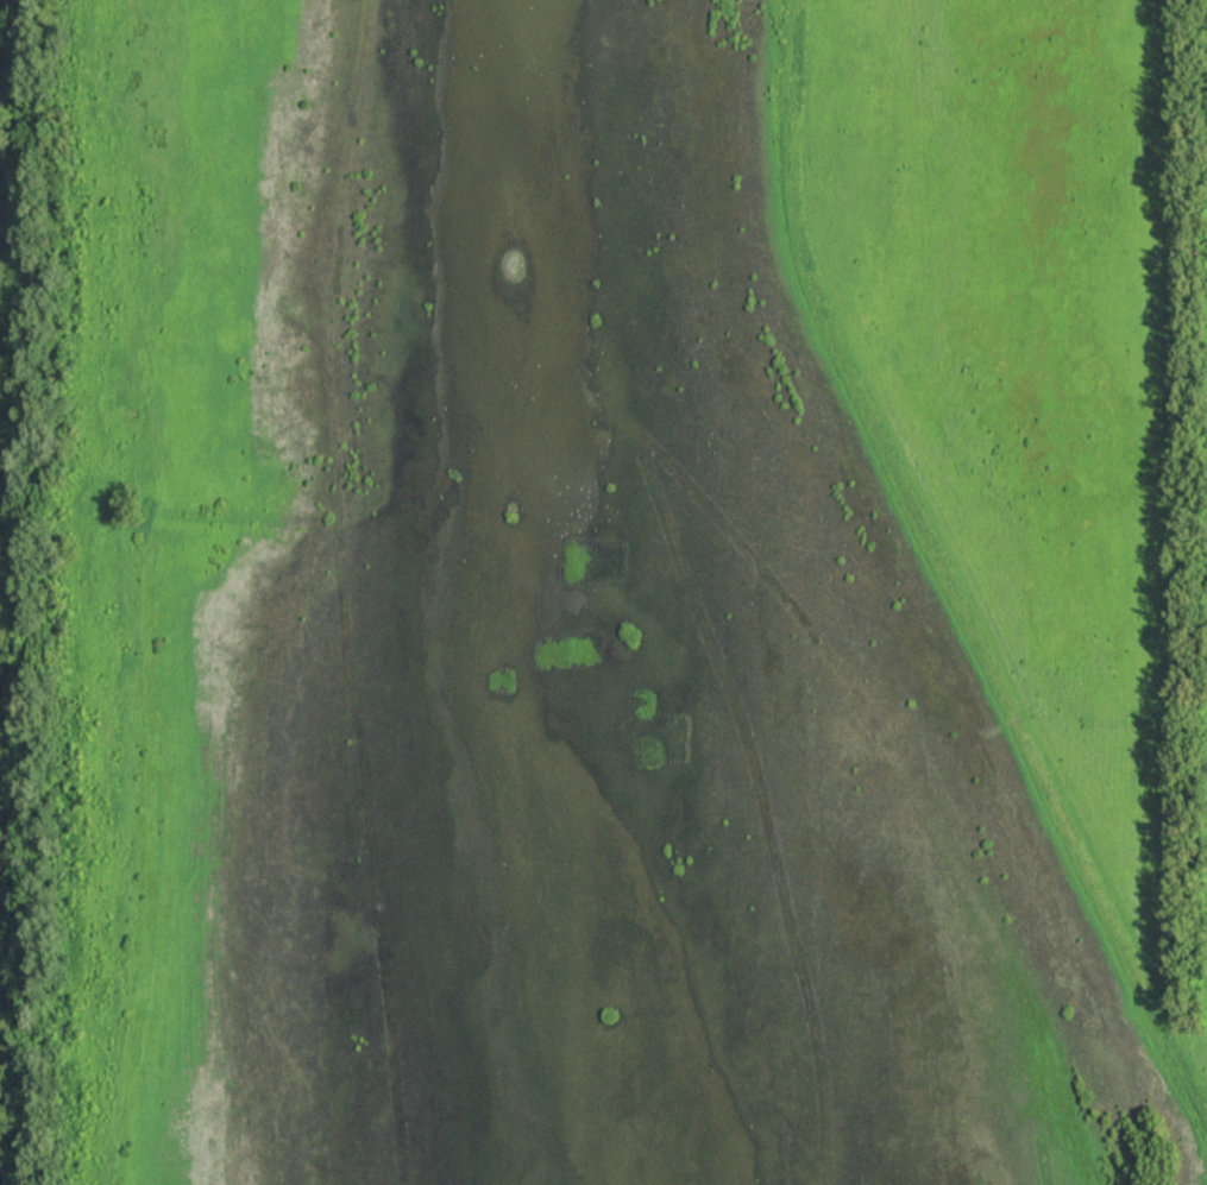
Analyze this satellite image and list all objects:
road: (948, 569)

